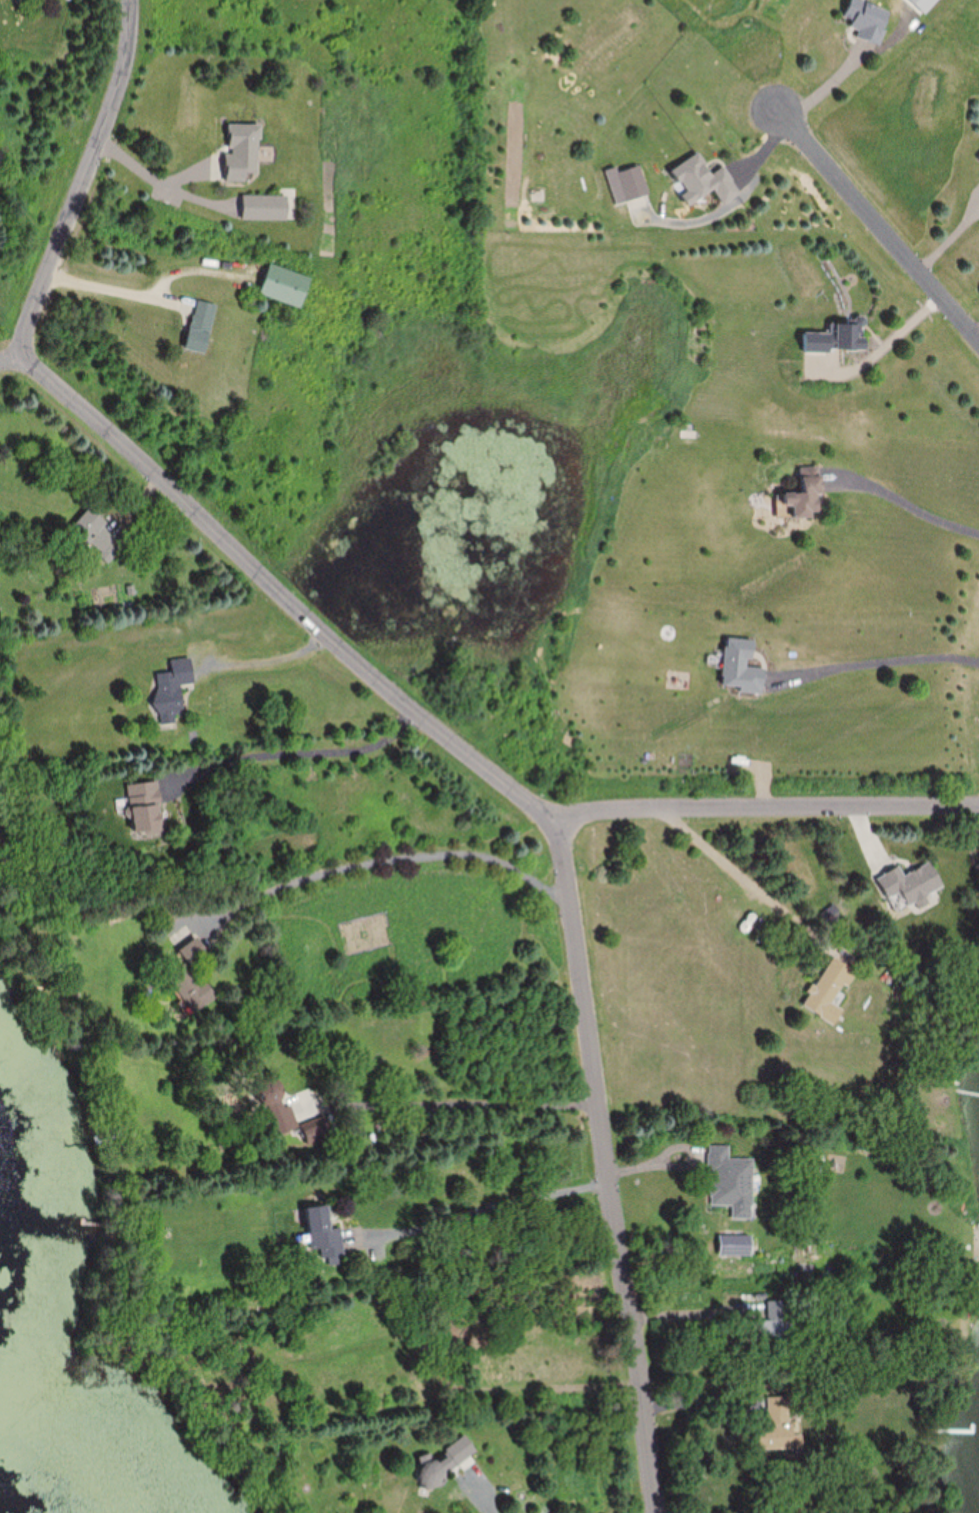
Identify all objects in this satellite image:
building: (867, 18)
building: (242, 149)
road: (150, 176)
road: (81, 180)
building: (702, 180)
building: (634, 181)
building: (265, 206)
road: (879, 223)
building: (285, 285)
road: (111, 289)
building: (200, 326)
building: (836, 337)
road: (884, 349)
road: (9, 360)
building: (806, 492)
road: (916, 506)
building: (98, 534)
road: (283, 595)
road: (883, 660)
road: (265, 664)
building: (742, 667)
building: (174, 688)
road: (297, 753)
road: (769, 803)
building: (146, 807)
road: (390, 862)
road: (747, 879)
building: (911, 884)
building: (191, 978)
building: (830, 989)
road: (466, 1105)
building: (294, 1120)
road: (608, 1163)
building: (732, 1180)
road: (495, 1208)
building: (324, 1232)
building: (736, 1244)
building: (776, 1322)
building: (776, 1424)
building: (441, 1460)
road: (483, 1495)

